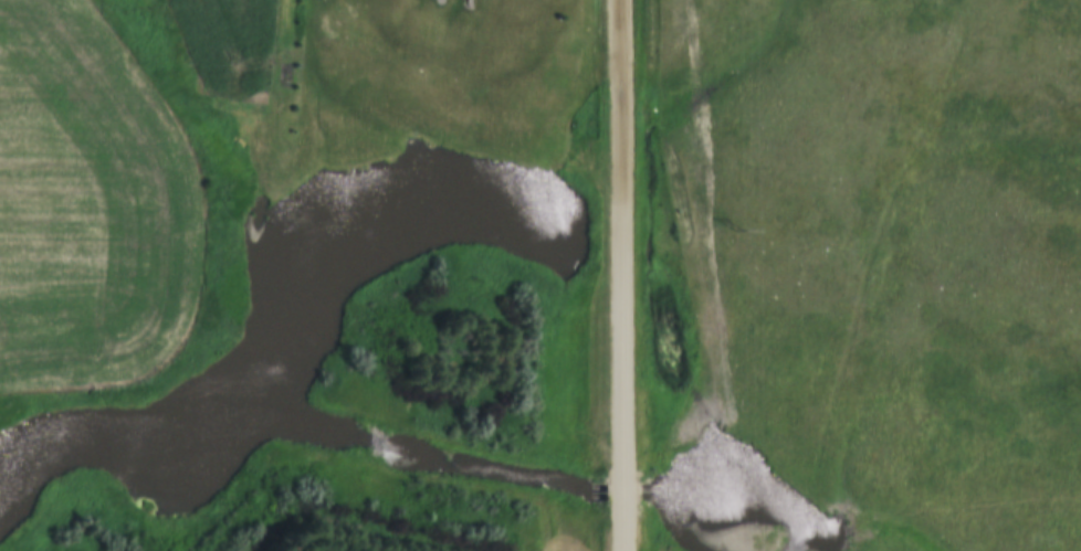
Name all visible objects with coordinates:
power tower: (737, 229)
road: (623, 275)

